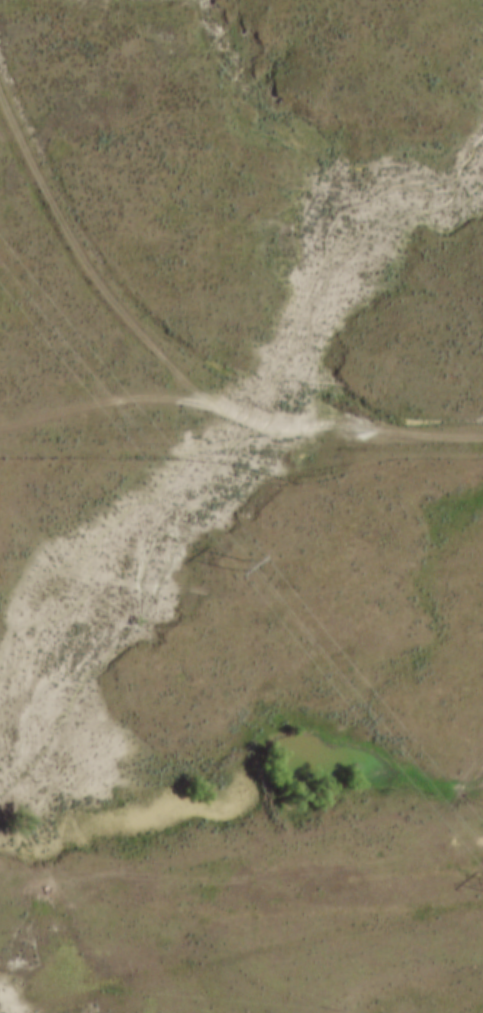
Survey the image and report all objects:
road: (177, 360)
power tower: (248, 566)

